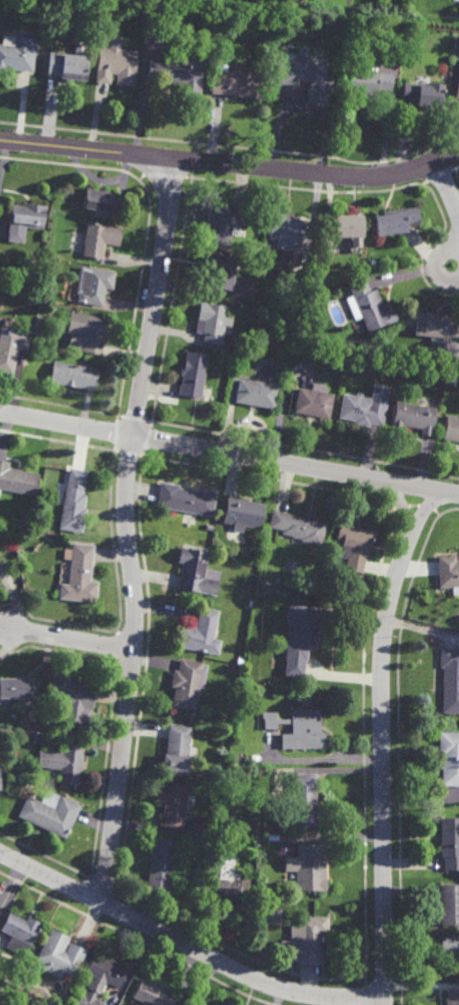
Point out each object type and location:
building: (17, 55)
building: (116, 62)
building: (69, 63)
building: (178, 72)
building: (274, 73)
building: (306, 77)
building: (241, 80)
building: (367, 81)
building: (457, 83)
building: (423, 93)
road: (232, 164)
road: (447, 187)
building: (103, 200)
building: (24, 220)
building: (396, 221)
building: (224, 223)
building: (346, 225)
building: (285, 227)
building: (98, 239)
building: (257, 252)
road: (437, 265)
building: (220, 270)
building: (300, 280)
building: (93, 285)
road: (138, 285)
building: (368, 306)
building: (212, 323)
building: (435, 326)
building: (87, 332)
building: (294, 334)
building: (291, 345)
building: (11, 347)
building: (193, 375)
building: (73, 377)
building: (453, 379)
building: (257, 394)
building: (315, 402)
building: (363, 410)
building: (413, 418)
building: (451, 429)
road: (229, 452)
road: (112, 474)
building: (17, 481)
building: (186, 500)
building: (74, 503)
road: (402, 506)
building: (243, 514)
building: (299, 528)
road: (126, 530)
building: (216, 544)
building: (352, 547)
building: (197, 574)
building: (448, 574)
building: (80, 576)
building: (277, 581)
building: (250, 605)
building: (305, 633)
building: (200, 635)
road: (71, 638)
building: (450, 680)
building: (186, 684)
building: (17, 688)
building: (70, 700)
building: (225, 718)
building: (270, 719)
building: (304, 729)
road: (382, 737)
building: (177, 749)
building: (449, 757)
building: (238, 758)
building: (64, 763)
building: (305, 802)
building: (173, 804)
building: (50, 813)
building: (210, 823)
building: (449, 842)
building: (160, 864)
building: (308, 865)
building: (233, 889)
building: (268, 901)
building: (449, 904)
building: (19, 933)
building: (307, 939)
road: (187, 945)
building: (449, 947)
building: (63, 949)
building: (16, 975)
building: (101, 978)
building: (11, 990)
building: (151, 994)
building: (452, 997)
building: (15, 998)

